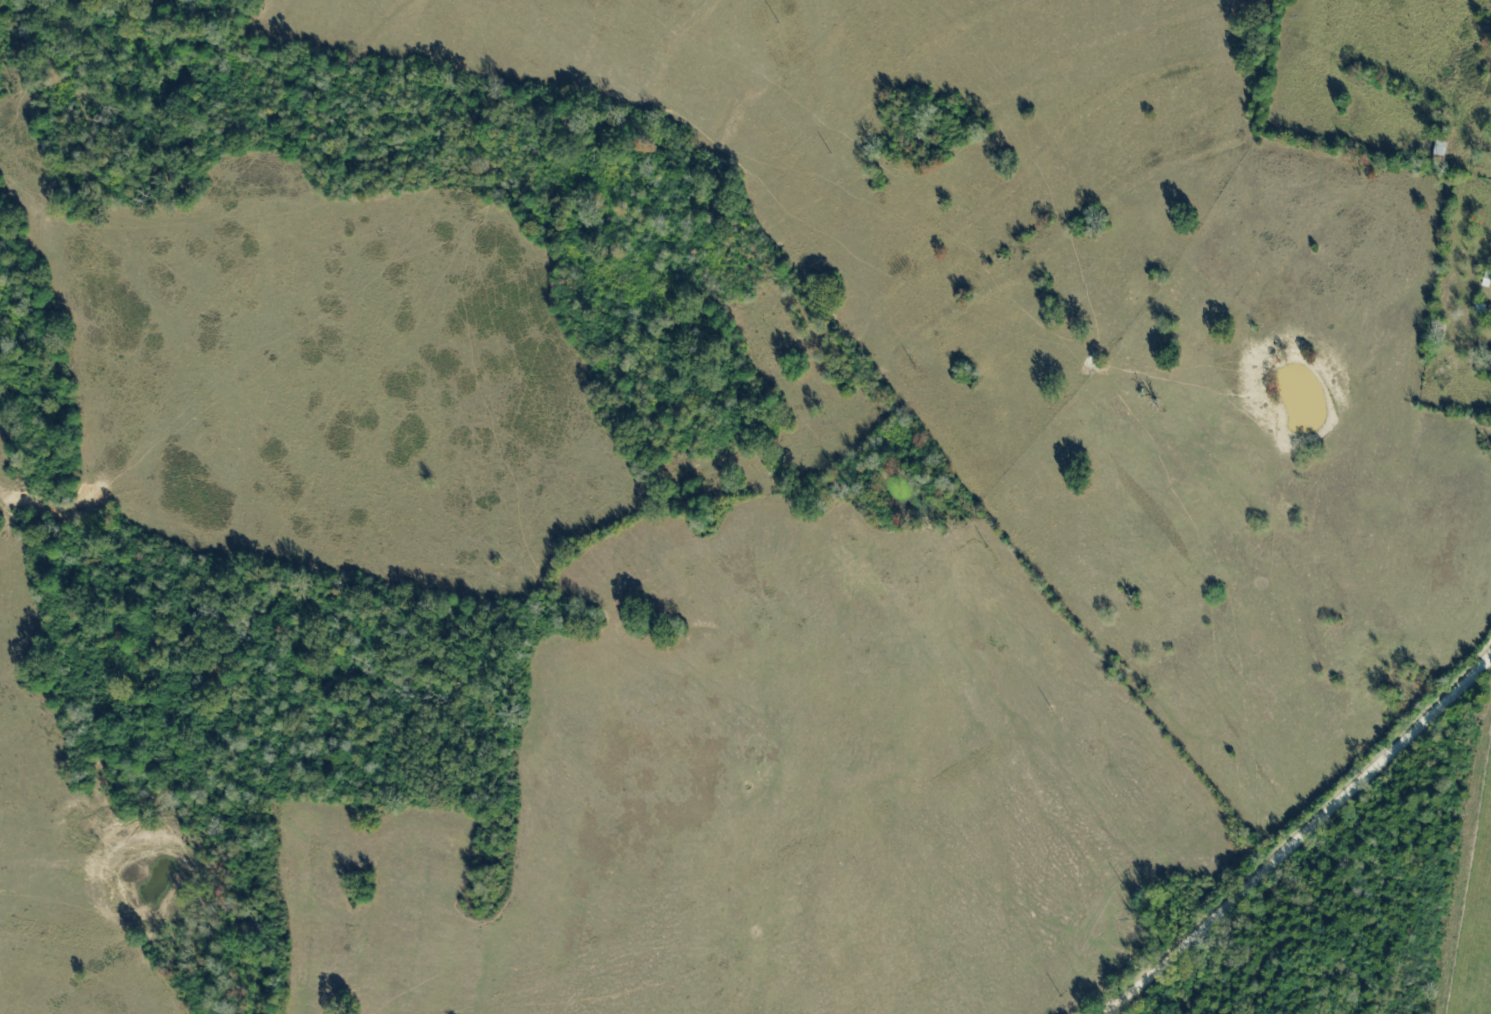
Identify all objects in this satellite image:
road: (1297, 836)

